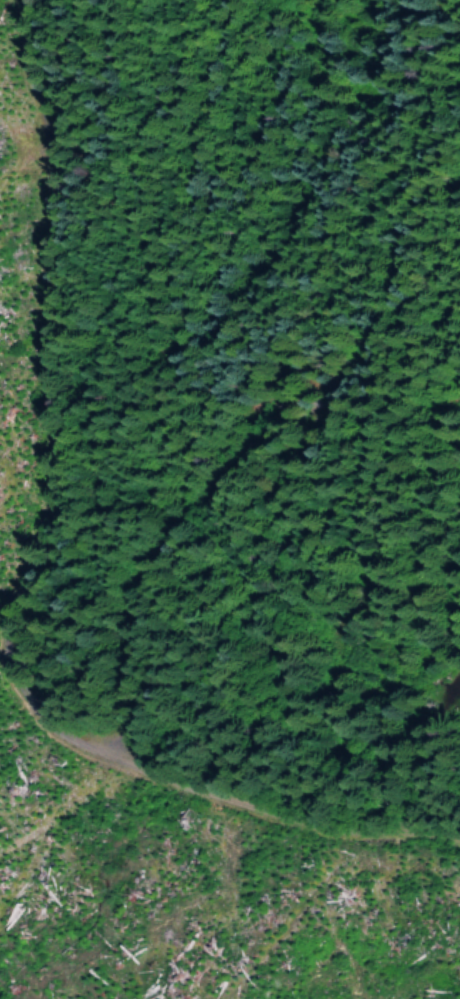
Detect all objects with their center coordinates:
road: (56, 626)

